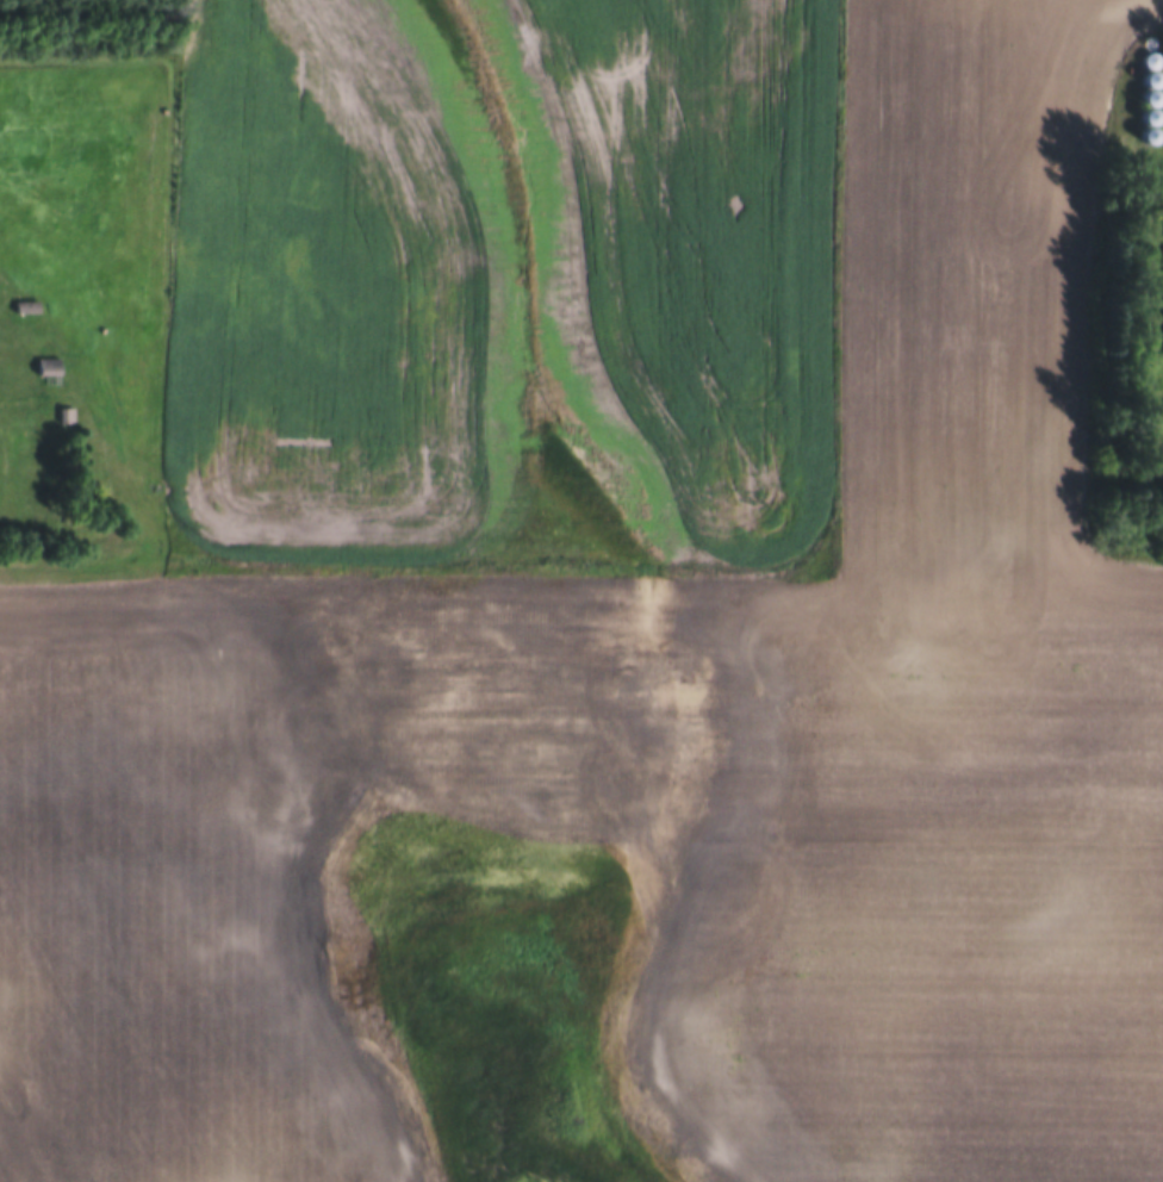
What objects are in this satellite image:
building: (45, 366)
building: (62, 413)
road: (1157, 453)

